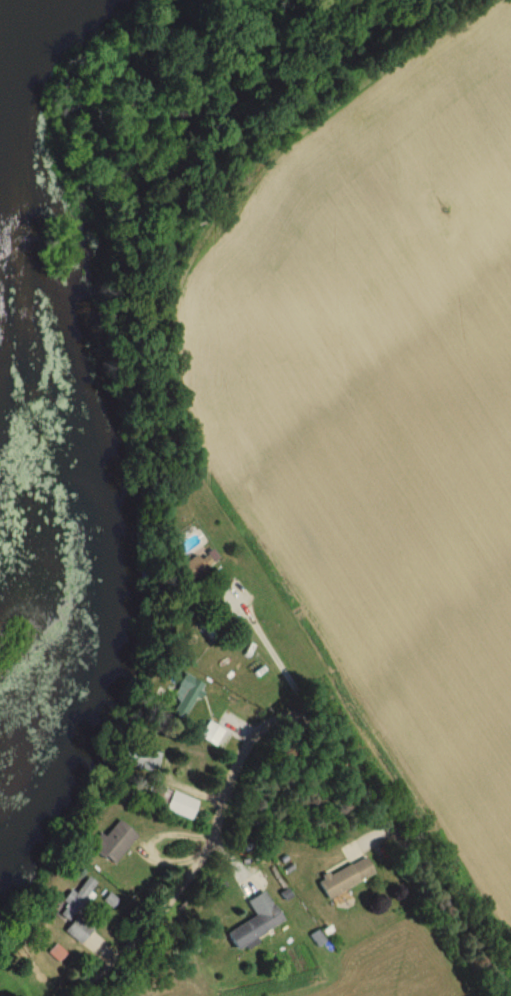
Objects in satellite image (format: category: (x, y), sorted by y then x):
river: (20, 32)
building: (195, 566)
building: (186, 694)
building: (211, 732)
building: (143, 760)
road: (354, 783)
building: (113, 842)
building: (345, 877)
road: (206, 886)
building: (76, 909)
building: (255, 921)

